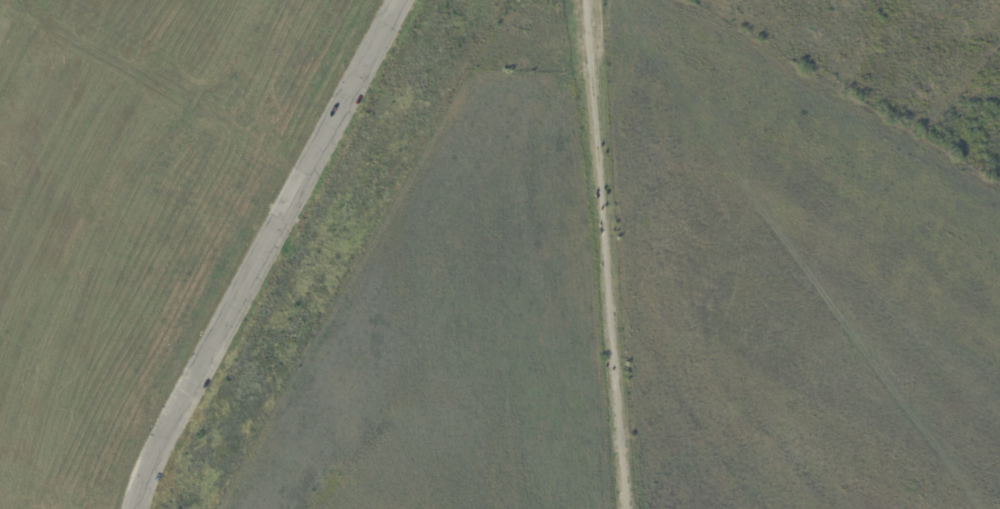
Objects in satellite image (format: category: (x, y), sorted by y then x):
road: (257, 252)

